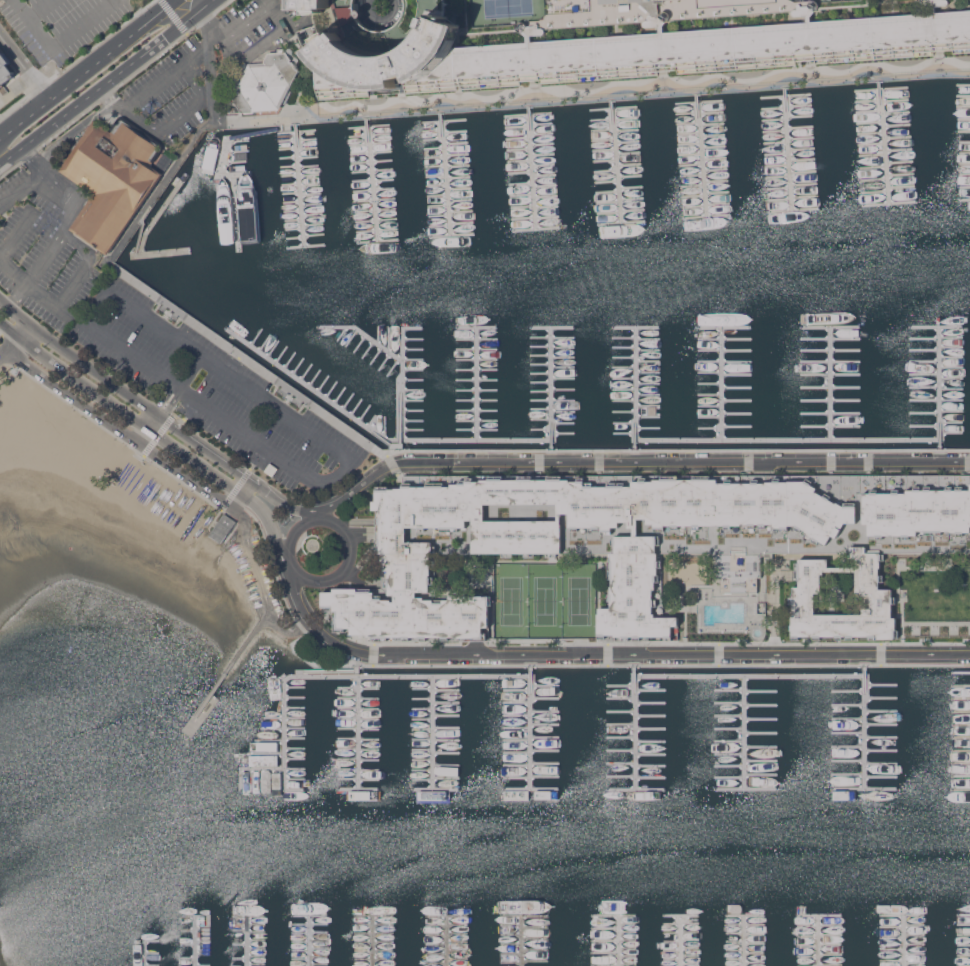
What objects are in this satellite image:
park: (796, 0)
road: (269, 2)
road: (195, 5)
road: (39, 6)
park: (508, 11)
road: (194, 12)
road: (173, 16)
road: (37, 22)
parking lot: (60, 23)
road: (85, 23)
road: (204, 24)
road: (241, 25)
road: (258, 44)
building: (701, 45)
road: (77, 58)
building: (767, 60)
road: (23, 65)
road: (87, 66)
building: (4, 72)
road: (167, 74)
road: (211, 81)
building: (261, 83)
pier: (963, 85)
road: (114, 87)
pier: (881, 89)
road: (89, 93)
pier: (785, 96)
pier: (963, 96)
pier: (699, 101)
pier: (867, 101)
pier: (895, 101)
road: (107, 102)
pier: (786, 107)
pier: (963, 107)
pier: (613, 108)
pier: (868, 112)
pier: (687, 113)
pier: (711, 113)
pier: (896, 113)
pier: (527, 114)
road: (329, 115)
road: (179, 116)
pier: (799, 116)
pier: (614, 119)
pier: (963, 119)
pier: (444, 120)
pier: (774, 120)
pier: (869, 122)
pier: (688, 123)
pier: (712, 124)
pier: (897, 125)
pier: (368, 126)
pier: (528, 126)
pier: (800, 127)
pier: (432, 130)
pier: (602, 130)
pier: (626, 130)
pier: (296, 131)
pier: (775, 131)
pier: (454, 132)
pier: (964, 132)
road: (1, 133)
pier: (541, 133)
pier: (688, 133)
pier: (870, 133)
pier: (369, 135)
pier: (713, 135)
pier: (898, 137)
pier: (518, 138)
pier: (801, 138)
pier: (433, 139)
pier: (297, 140)
pier: (603, 140)
pier: (884, 141)
pier: (627, 142)
pier: (776, 142)
pier: (964, 142)
pier: (455, 143)
pier: (370, 144)
pier: (542, 144)
pier: (689, 144)
pier: (871, 144)
pier: (714, 147)
pier: (297, 148)
pier: (433, 148)
pier: (788, 148)
pier: (519, 149)
pier: (802, 149)
pier: (236, 150)
pier: (604, 150)
pier: (898, 150)
pier: (370, 153)
pier: (628, 153)
pier: (964, 153)
pier: (456, 154)
pier: (543, 154)
pier: (690, 154)
pier: (702, 154)
pier: (776, 154)
pier: (872, 155)
pier: (298, 157)
pier: (434, 157)
pier: (714, 158)
pier: (604, 160)
pier: (616, 160)
pier: (802, 160)
pier: (519, 161)
pier: (371, 162)
pier: (899, 162)
pier: (629, 164)
pier: (691, 164)
pier: (964, 164)
pier: (435, 165)
pier: (457, 165)
pier: (532, 165)
pier: (543, 165)
pier: (777, 165)
pier: (299, 166)
pier: (873, 167)
pier: (220, 168)
pier: (715, 169)
pier: (372, 170)
pier: (605, 171)
road: (49, 172)
pier: (445, 172)
pier: (520, 172)
pier: (803, 172)
pier: (242, 173)
pier: (300, 175)
pier: (544, 175)
pier: (692, 175)
pier: (900, 175)
pier: (964, 175)
pier: (435, 176)
pier: (630, 176)
building: (114, 177)
pier: (371, 177)
pier: (458, 177)
pier: (778, 177)
pier: (362, 180)
pier: (383, 180)
pier: (874, 180)
pier: (606, 181)
pier: (716, 181)
pier: (299, 182)
road: (21, 184)
pier: (290, 184)
pier: (521, 184)
pier: (804, 184)
pier: (310, 185)
pier: (436, 185)
pier: (545, 185)
pier: (692, 186)
pier: (631, 187)
pier: (901, 187)
pier: (965, 187)
pier: (384, 188)
pier: (459, 188)
pier: (779, 188)
pier: (363, 190)
pier: (607, 192)
pier: (717, 192)
pier: (874, 192)
pier: (291, 193)
pier: (310, 193)
pier: (521, 194)
pier: (437, 195)
pier: (546, 196)
pier: (693, 196)
pier: (632, 198)
pier: (793, 198)
pier: (374, 199)
pier: (460, 200)
pier: (964, 200)
pier: (292, 201)
pier: (608, 202)
pier: (311, 204)
pier: (889, 204)
pier: (438, 205)
pier: (706, 205)
pier: (534, 206)
pier: (375, 210)
pier: (793, 210)
pier: (293, 211)
pier: (461, 211)
pier: (621, 212)
pier: (312, 215)
pier: (438, 215)
pier: (535, 217)
pier: (706, 217)
pier: (294, 219)
pier: (376, 220)
pier: (462, 223)
pier: (621, 223)
pier: (313, 224)
pier: (439, 226)
pier: (294, 229)
pier: (536, 229)
road: (16, 230)
pier: (377, 231)
pier: (314, 234)
pier: (452, 235)
pier: (295, 237)
road: (84, 240)
pier: (378, 241)
pier: (305, 245)
road: (91, 249)
parking lot: (42, 251)
pier: (134, 251)
road: (42, 258)
road: (84, 265)
road: (12, 271)
road: (111, 281)
road: (16, 296)
pier: (249, 325)
pier: (608, 325)
pier: (767, 325)
pier: (939, 325)
pier: (313, 326)
pier: (386, 326)
pier: (460, 326)
pier: (535, 326)
pier: (684, 326)
pier: (854, 326)
road: (21, 327)
pier: (248, 334)
pier: (312, 335)
pier: (386, 335)
pier: (460, 335)
pier: (535, 335)
pier: (608, 335)
pier: (684, 335)
pier: (939, 335)
road: (5, 336)
pier: (768, 336)
pier: (854, 336)
road: (8, 343)
pier: (608, 343)
pier: (684, 343)
pier: (312, 344)
pier: (386, 344)
pier: (460, 344)
pier: (535, 344)
pier: (768, 345)
pier: (854, 346)
pier: (939, 346)
pier: (386, 352)
pier: (535, 352)
pier: (608, 352)
pier: (672, 352)
pier: (312, 353)
pier: (460, 353)
pier: (695, 355)
pier: (768, 355)
pier: (854, 355)
pier: (939, 355)
pier: (312, 359)
pier: (312, 361)
pier: (386, 361)
pier: (460, 361)
pier: (534, 361)
pier: (609, 361)
pier: (672, 361)
pier: (768, 364)
pier: (853, 364)
pier: (939, 364)
pier: (695, 365)
pier: (672, 369)
pier: (322, 370)
pier: (386, 370)
pier: (460, 370)
pier: (535, 370)
pier: (609, 370)
pier: (695, 374)
pier: (768, 374)
pier: (854, 374)
pier: (939, 374)
pier: (386, 378)
pier: (460, 378)
pier: (535, 378)
pier: (609, 378)
pier: (672, 378)
pier: (323, 379)
pier: (695, 383)
pier: (854, 383)
pier: (769, 384)
pier: (939, 384)
pier: (302, 385)
pier: (608, 386)
pier: (768, 386)
pier: (939, 386)
pier: (322, 387)
pier: (386, 387)
pier: (386, 387)
pier: (461, 387)
pier: (461, 387)
pier: (534, 387)
pier: (535, 387)
pier: (609, 387)
pier: (672, 387)
pier: (683, 387)
pier: (853, 387)
parking lot: (215, 393)
pier: (769, 393)
pier: (695, 394)
pier: (853, 394)
pier: (939, 394)
pier: (461, 396)
pier: (535, 396)
pier: (386, 397)
pier: (609, 397)
pier: (672, 397)
road: (271, 403)
pier: (695, 403)
pier: (939, 403)
pier: (460, 404)
pier: (768, 404)
pier: (854, 404)
pier: (386, 406)
pier: (535, 406)
pier: (608, 406)
pier: (672, 406)
pier: (460, 413)
pier: (695, 413)
pier: (768, 413)
pier: (854, 413)
pier: (939, 413)
pier: (386, 415)
pier: (535, 415)
pier: (609, 415)
pier: (672, 415)
pier: (461, 422)
pier: (695, 423)
pier: (768, 423)
pier: (853, 423)
pier: (939, 423)
pier: (397, 424)
pier: (535, 424)
pier: (608, 424)
pier: (672, 425)
pier: (461, 430)
pier: (768, 432)
pier: (397, 433)
pier: (535, 433)
pier: (608, 433)
pier: (853, 433)
pier: (939, 433)
pier: (684, 434)
pier: (460, 439)
pier: (397, 443)
pier: (535, 443)
pier: (608, 443)
pier: (684, 443)
pier: (768, 443)
pier: (853, 443)
pier: (939, 443)
road: (444, 460)
road: (208, 469)
road: (186, 475)
road: (322, 512)
building: (224, 527)
road: (292, 531)
building: (653, 543)
road: (287, 563)
road: (344, 568)
park: (509, 602)
park: (545, 602)
park: (580, 602)
road: (957, 616)
road: (246, 641)
road: (668, 654)
pier: (339, 672)
pier: (480, 672)
pier: (573, 672)
pier: (671, 672)
pier: (768, 672)
pier: (961, 672)
pier: (868, 673)
pier: (403, 677)
pier: (313, 680)
pier: (339, 682)
pier: (466, 683)
pier: (574, 684)
pier: (671, 684)
pier: (768, 684)
pier: (403, 685)
pier: (490, 685)
pier: (868, 685)
pier: (960, 685)
pier: (309, 690)
pier: (339, 691)
pier: (466, 693)
road: (209, 694)
pier: (402, 694)
pier: (671, 696)
pier: (768, 696)
pier: (852, 696)
pier: (305, 697)
pier: (491, 697)
pier: (573, 697)
pier: (883, 698)
pier: (961, 698)
pier: (339, 700)
pier: (466, 702)
pier: (403, 703)
pier: (301, 706)
pier: (671, 707)
pier: (852, 707)
pier: (491, 708)
pier: (574, 708)
pier: (768, 708)
pier: (339, 710)
pier: (402, 711)
pier: (466, 711)
pier: (961, 711)
pier: (883, 712)
pier: (199, 714)
pier: (297, 715)
pier: (339, 719)
pier: (671, 719)
pier: (768, 719)
pier: (402, 720)
pier: (480, 720)
pier: (574, 720)
pier: (852, 720)
pier: (292, 724)
pier: (883, 725)
pier: (961, 725)
pier: (339, 728)
pier: (466, 728)
pier: (671, 728)
pier: (768, 728)
pier: (867, 728)
pier: (329, 729)
pier: (402, 729)
pier: (402, 729)
pier: (477, 729)
pier: (574, 729)
pier: (768, 730)
pier: (490, 732)
pier: (671, 732)
pier: (852, 732)
pier: (289, 733)
pier: (302, 733)
pier: (573, 733)
pier: (339, 737)
pier: (961, 737)
pier: (403, 738)
pier: (466, 738)
pier: (883, 738)
pier: (285, 742)
pier: (491, 743)
pier: (671, 743)
pier: (768, 743)
pier: (574, 744)
pier: (852, 744)
pier: (339, 746)
pier: (403, 746)
pier: (466, 747)
pier: (281, 749)
pier: (883, 750)
pier: (960, 751)
pier: (403, 754)
pier: (340, 755)
pier: (671, 755)
pier: (768, 755)
pier: (852, 755)
pier: (308, 756)
pier: (574, 756)
pier: (480, 757)
pier: (277, 758)
pier: (392, 763)
pier: (883, 763)
pier: (960, 763)
pier: (339, 765)
pier: (413, 765)
pier: (466, 765)
pier: (671, 766)
pier: (768, 766)
pier: (273, 767)
pier: (491, 768)
pier: (573, 768)
pier: (852, 768)
pier: (291, 773)
pier: (402, 773)
pier: (339, 774)
pier: (466, 774)
pier: (268, 776)
pier: (960, 776)
pier: (868, 777)
pier: (768, 778)
pier: (490, 779)
pier: (574, 779)
pier: (671, 779)
pier: (403, 781)
pier: (339, 782)
pier: (466, 782)
pier: (264, 785)
pier: (479, 790)
pier: (573, 790)
pier: (671, 790)
pier: (768, 790)
pier: (868, 790)
pier: (339, 791)
pier: (403, 791)
pier: (960, 791)
pier: (372, 940)
pier: (193, 941)
pier: (308, 941)
pier: (446, 941)
pier: (520, 941)
pier: (617, 941)
pier: (680, 941)
pier: (743, 941)
pier: (817, 941)
pier: (903, 941)
pier: (247, 942)
pier: (145, 953)

